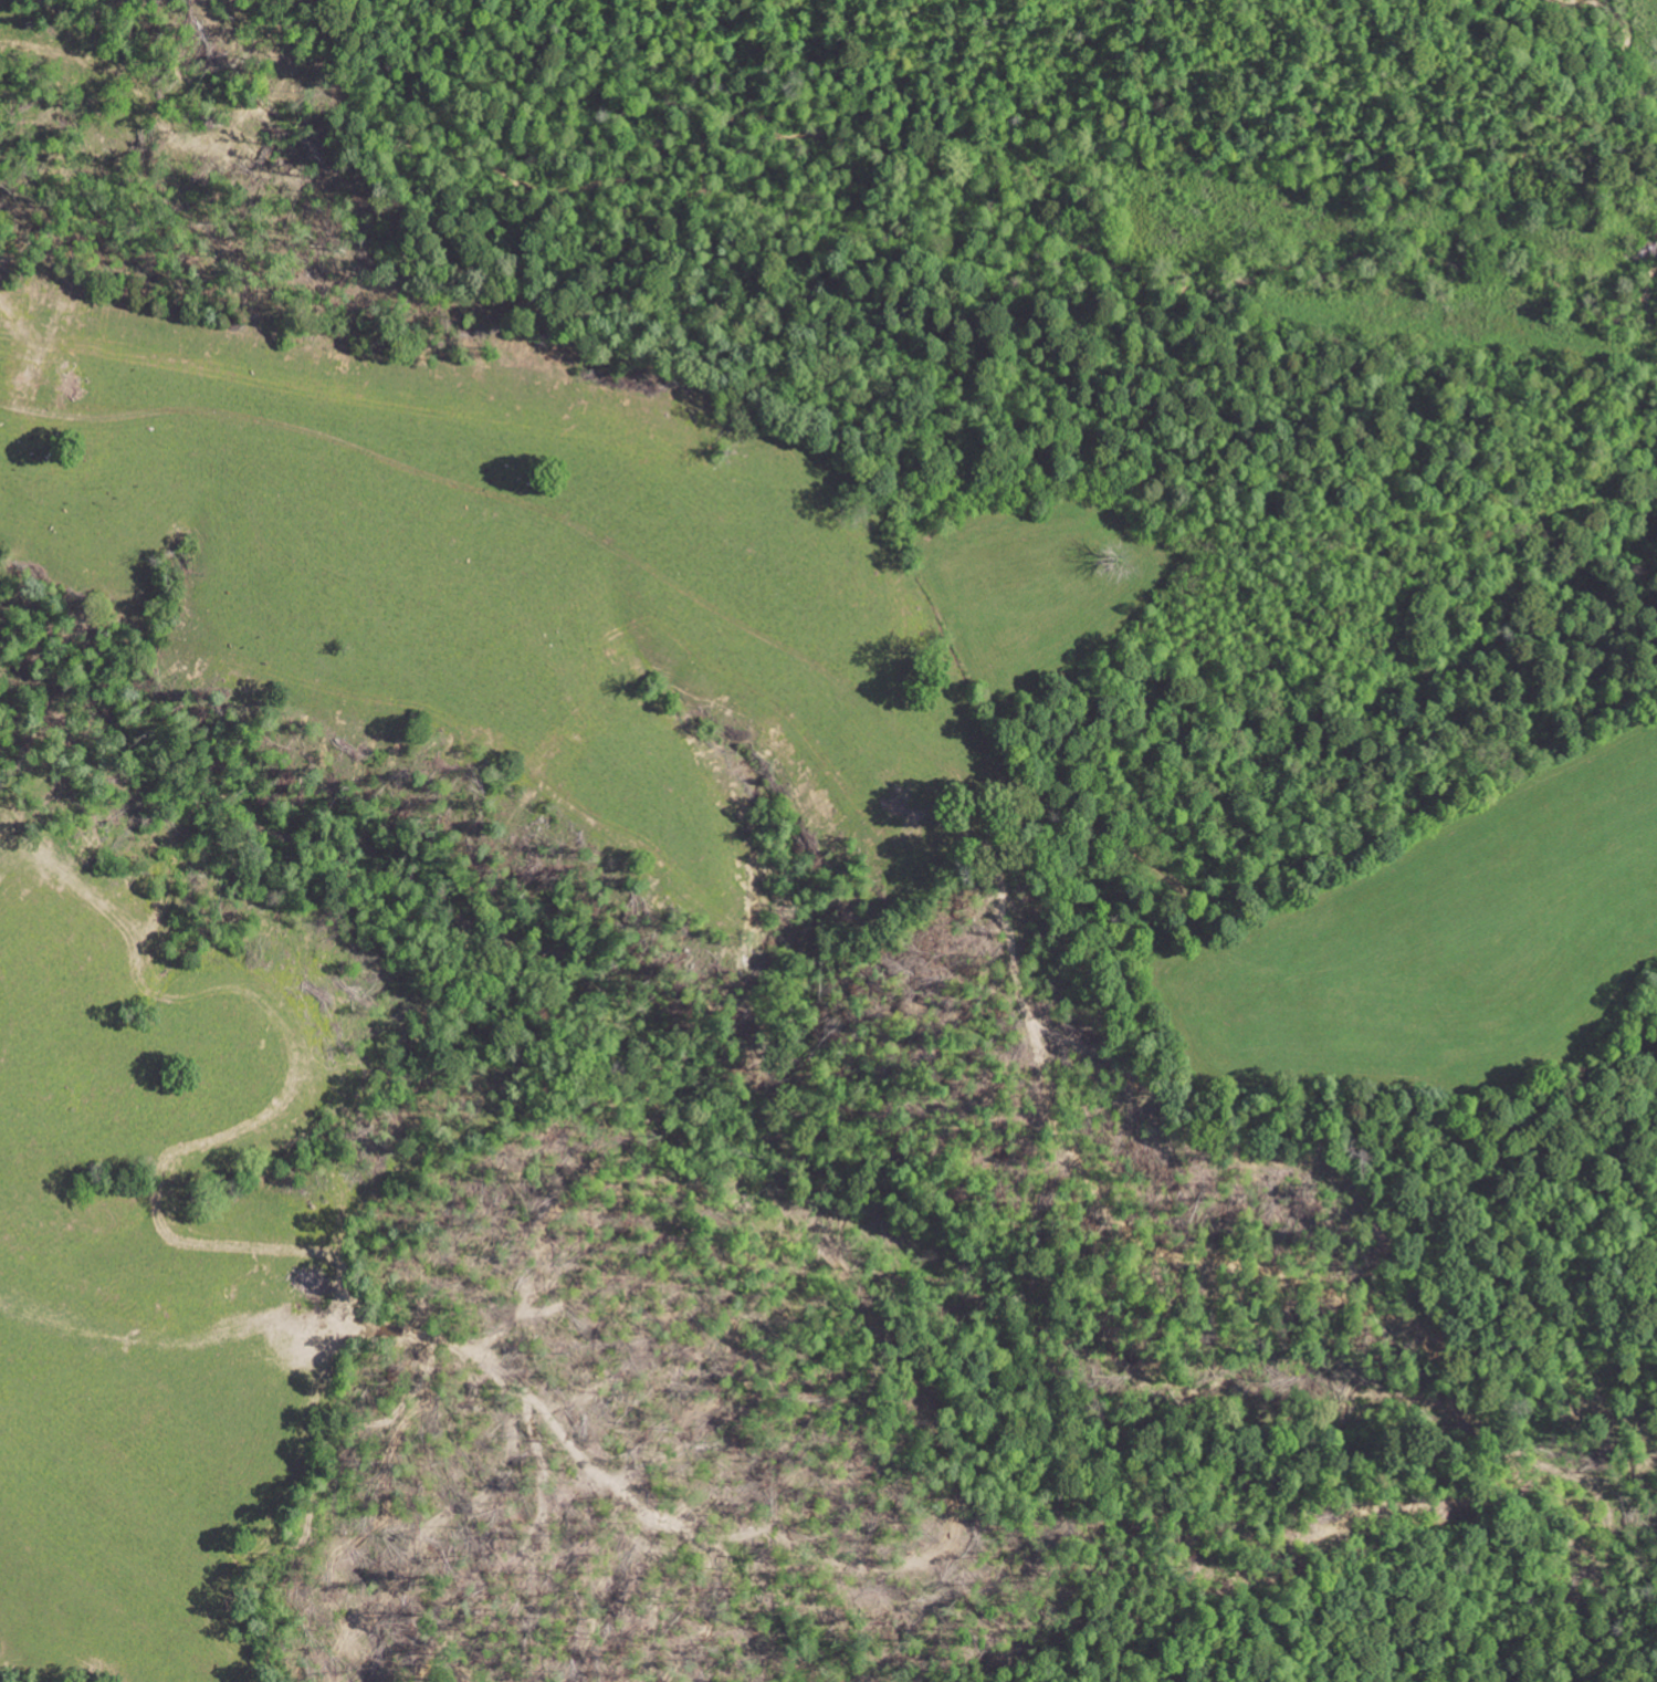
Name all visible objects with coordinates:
road: (1615, 414)

